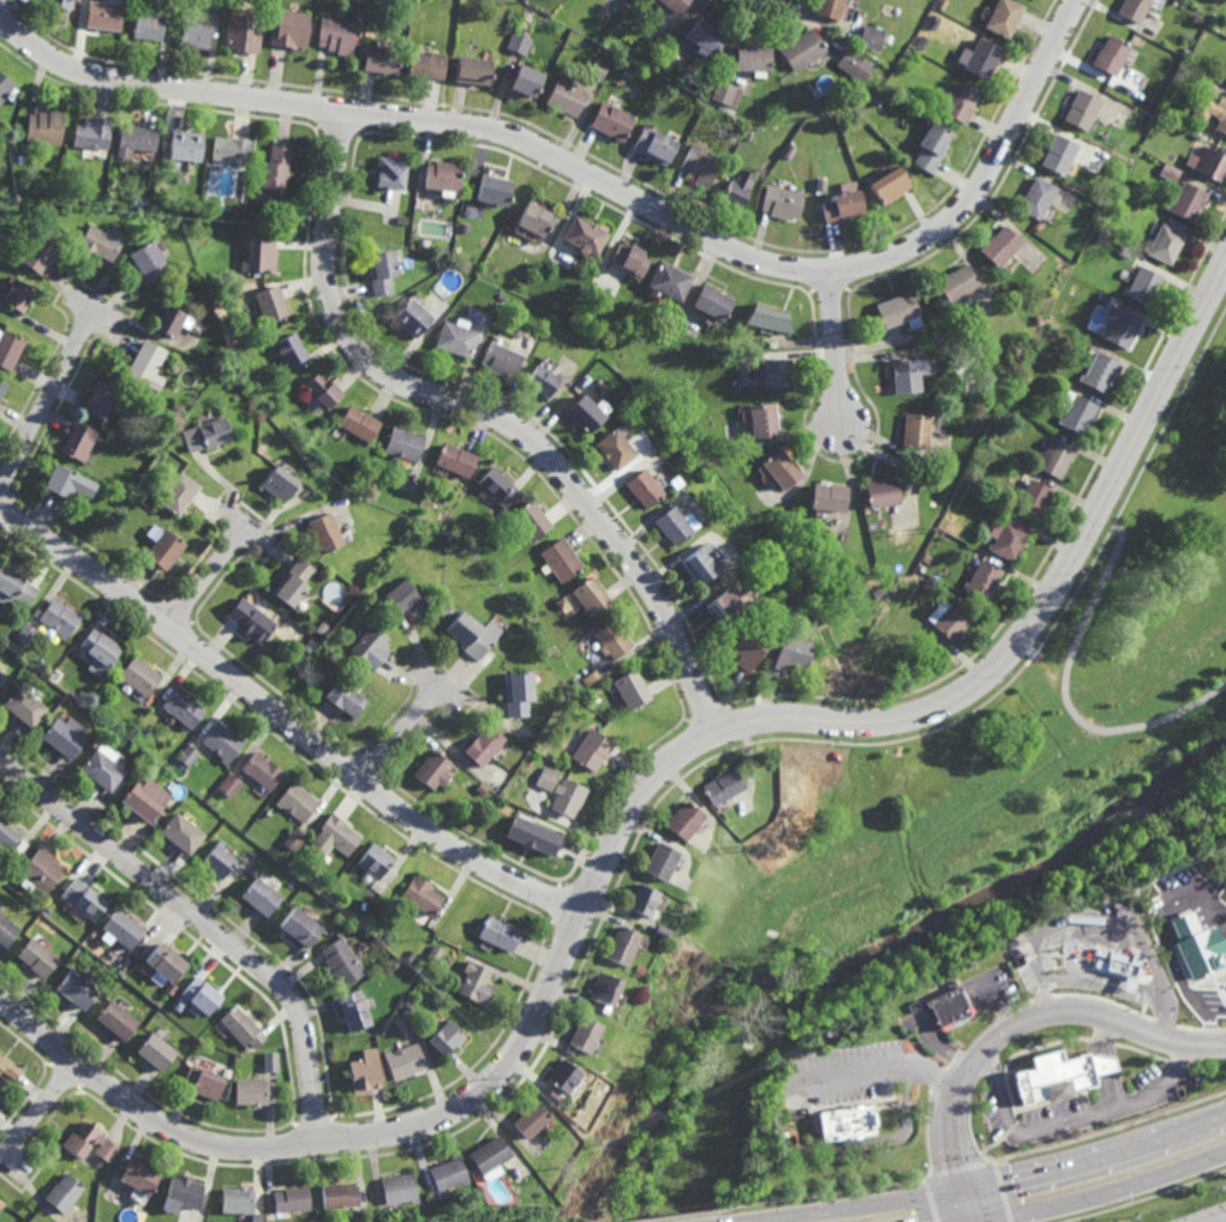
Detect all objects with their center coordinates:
building: (61, 2)
building: (941, 4)
building: (677, 5)
building: (830, 7)
building: (1131, 10)
building: (102, 13)
building: (357, 14)
building: (1003, 17)
building: (148, 25)
building: (289, 29)
building: (240, 31)
building: (195, 35)
building: (336, 35)
building: (705, 36)
building: (869, 36)
building: (355, 40)
building: (920, 42)
building: (518, 43)
building: (800, 47)
building: (749, 55)
building: (379, 58)
building: (979, 58)
building: (1108, 58)
building: (666, 59)
building: (855, 62)
building: (425, 64)
building: (598, 70)
building: (472, 71)
building: (1225, 78)
building: (525, 79)
building: (5, 86)
building: (724, 92)
building: (567, 97)
building: (959, 102)
building: (1165, 104)
building: (1081, 109)
building: (1210, 113)
building: (1136, 116)
building: (612, 120)
building: (44, 127)
building: (92, 132)
building: (748, 136)
building: (1194, 136)
building: (137, 137)
building: (656, 144)
building: (932, 146)
building: (183, 148)
building: (229, 150)
building: (1057, 154)
building: (701, 162)
building: (1208, 163)
building: (271, 169)
building: (389, 170)
building: (1168, 174)
building: (441, 175)
building: (180, 178)
road: (603, 179)
building: (821, 182)
building: (889, 184)
building: (740, 186)
building: (494, 188)
building: (1035, 198)
building: (1186, 199)
building: (782, 202)
building: (140, 203)
building: (843, 205)
building: (54, 211)
power tower: (1099, 212)
building: (534, 217)
building: (402, 221)
building: (464, 227)
building: (1037, 227)
building: (584, 234)
building: (100, 242)
building: (1164, 245)
building: (998, 246)
building: (41, 252)
building: (261, 254)
building: (1123, 254)
building: (630, 257)
building: (148, 260)
building: (439, 263)
building: (379, 271)
building: (671, 280)
building: (956, 282)
building: (1141, 283)
building: (19, 294)
building: (500, 296)
building: (1104, 298)
building: (713, 300)
building: (271, 305)
building: (898, 311)
building: (411, 316)
building: (771, 317)
building: (169, 321)
building: (1036, 321)
building: (1120, 328)
building: (454, 337)
building: (937, 340)
building: (264, 341)
road: (836, 346)
building: (10, 348)
building: (291, 349)
building: (500, 359)
building: (148, 364)
building: (1099, 371)
building: (777, 373)
building: (907, 375)
building: (540, 381)
building: (986, 383)
building: (2, 388)
building: (321, 390)
building: (1012, 394)
road: (49, 400)
building: (101, 400)
building: (177, 408)
road: (489, 412)
building: (1075, 412)
building: (584, 413)
building: (765, 421)
building: (357, 423)
building: (916, 431)
building: (207, 435)
building: (80, 441)
building: (402, 443)
building: (614, 448)
building: (1054, 457)
building: (453, 459)
building: (1017, 468)
building: (783, 469)
building: (671, 481)
building: (68, 483)
building: (280, 483)
building: (496, 486)
building: (644, 487)
building: (139, 490)
building: (880, 492)
building: (179, 493)
building: (829, 497)
building: (1033, 498)
building: (994, 513)
building: (531, 520)
building: (675, 523)
road: (1108, 523)
power tower: (932, 527)
building: (324, 532)
building: (1009, 540)
building: (167, 550)
building: (927, 557)
building: (560, 559)
building: (701, 563)
road: (210, 573)
building: (983, 580)
building: (293, 581)
building: (16, 587)
building: (754, 589)
building: (878, 589)
building: (407, 595)
building: (591, 597)
building: (781, 598)
building: (724, 605)
building: (61, 617)
building: (950, 618)
building: (252, 619)
building: (28, 634)
building: (470, 635)
building: (610, 639)
building: (371, 646)
building: (101, 649)
building: (747, 649)
building: (791, 652)
building: (140, 676)
building: (592, 676)
building: (2, 679)
building: (629, 688)
building: (516, 693)
building: (346, 696)
road: (1070, 699)
building: (25, 707)
building: (184, 708)
road: (286, 718)
building: (534, 723)
road: (403, 732)
building: (66, 736)
building: (222, 739)
building: (484, 743)
building: (590, 748)
building: (189, 753)
building: (151, 763)
building: (263, 768)
building: (433, 768)
building: (103, 769)
building: (544, 775)
building: (514, 780)
building: (231, 783)
building: (720, 783)
building: (567, 795)
road: (634, 797)
building: (146, 798)
building: (298, 799)
park: (957, 810)
building: (682, 821)
building: (183, 832)
building: (532, 835)
building: (334, 837)
building: (295, 838)
building: (11, 839)
power tower: (767, 841)
building: (376, 861)
building: (219, 862)
building: (659, 863)
building: (41, 871)
building: (421, 895)
building: (262, 897)
building: (1150, 898)
building: (83, 899)
building: (641, 901)
building: (361, 921)
road: (205, 923)
building: (301, 927)
building: (124, 929)
building: (7, 930)
building: (658, 933)
building: (498, 935)
road: (1159, 935)
building: (1185, 945)
building: (618, 947)
building: (433, 953)
building: (37, 957)
building: (409, 957)
building: (343, 960)
building: (165, 964)
building: (1117, 965)
building: (636, 971)
building: (476, 984)
road: (1104, 988)
building: (78, 989)
building: (171, 990)
building: (603, 990)
building: (202, 996)
building: (950, 1001)
building: (407, 1005)
building: (355, 1010)
road: (1027, 1017)
building: (118, 1020)
building: (243, 1028)
road: (1102, 1034)
building: (582, 1035)
building: (445, 1038)
building: (365, 1041)
building: (157, 1052)
building: (405, 1061)
building: (273, 1062)
road: (1104, 1064)
building: (7, 1067)
road: (880, 1068)
building: (366, 1072)
building: (1052, 1073)
building: (562, 1077)
building: (205, 1082)
road: (997, 1085)
road: (1110, 1089)
building: (253, 1091)
building: (555, 1098)
road: (1111, 1106)
road: (38, 1110)
building: (530, 1120)
building: (845, 1121)
building: (83, 1140)
road: (837, 1145)
building: (108, 1150)
building: (489, 1158)
building: (447, 1174)
building: (140, 1175)
road: (992, 1186)
building: (400, 1188)
traffic signals: (969, 1192)
building: (64, 1193)
building: (184, 1193)
road: (1106, 1193)
building: (342, 1194)
building: (239, 1199)
building: (294, 1199)
building: (1, 1202)
road: (971, 1206)
building: (219, 1217)
building: (258, 1217)
building: (325, 1220)

